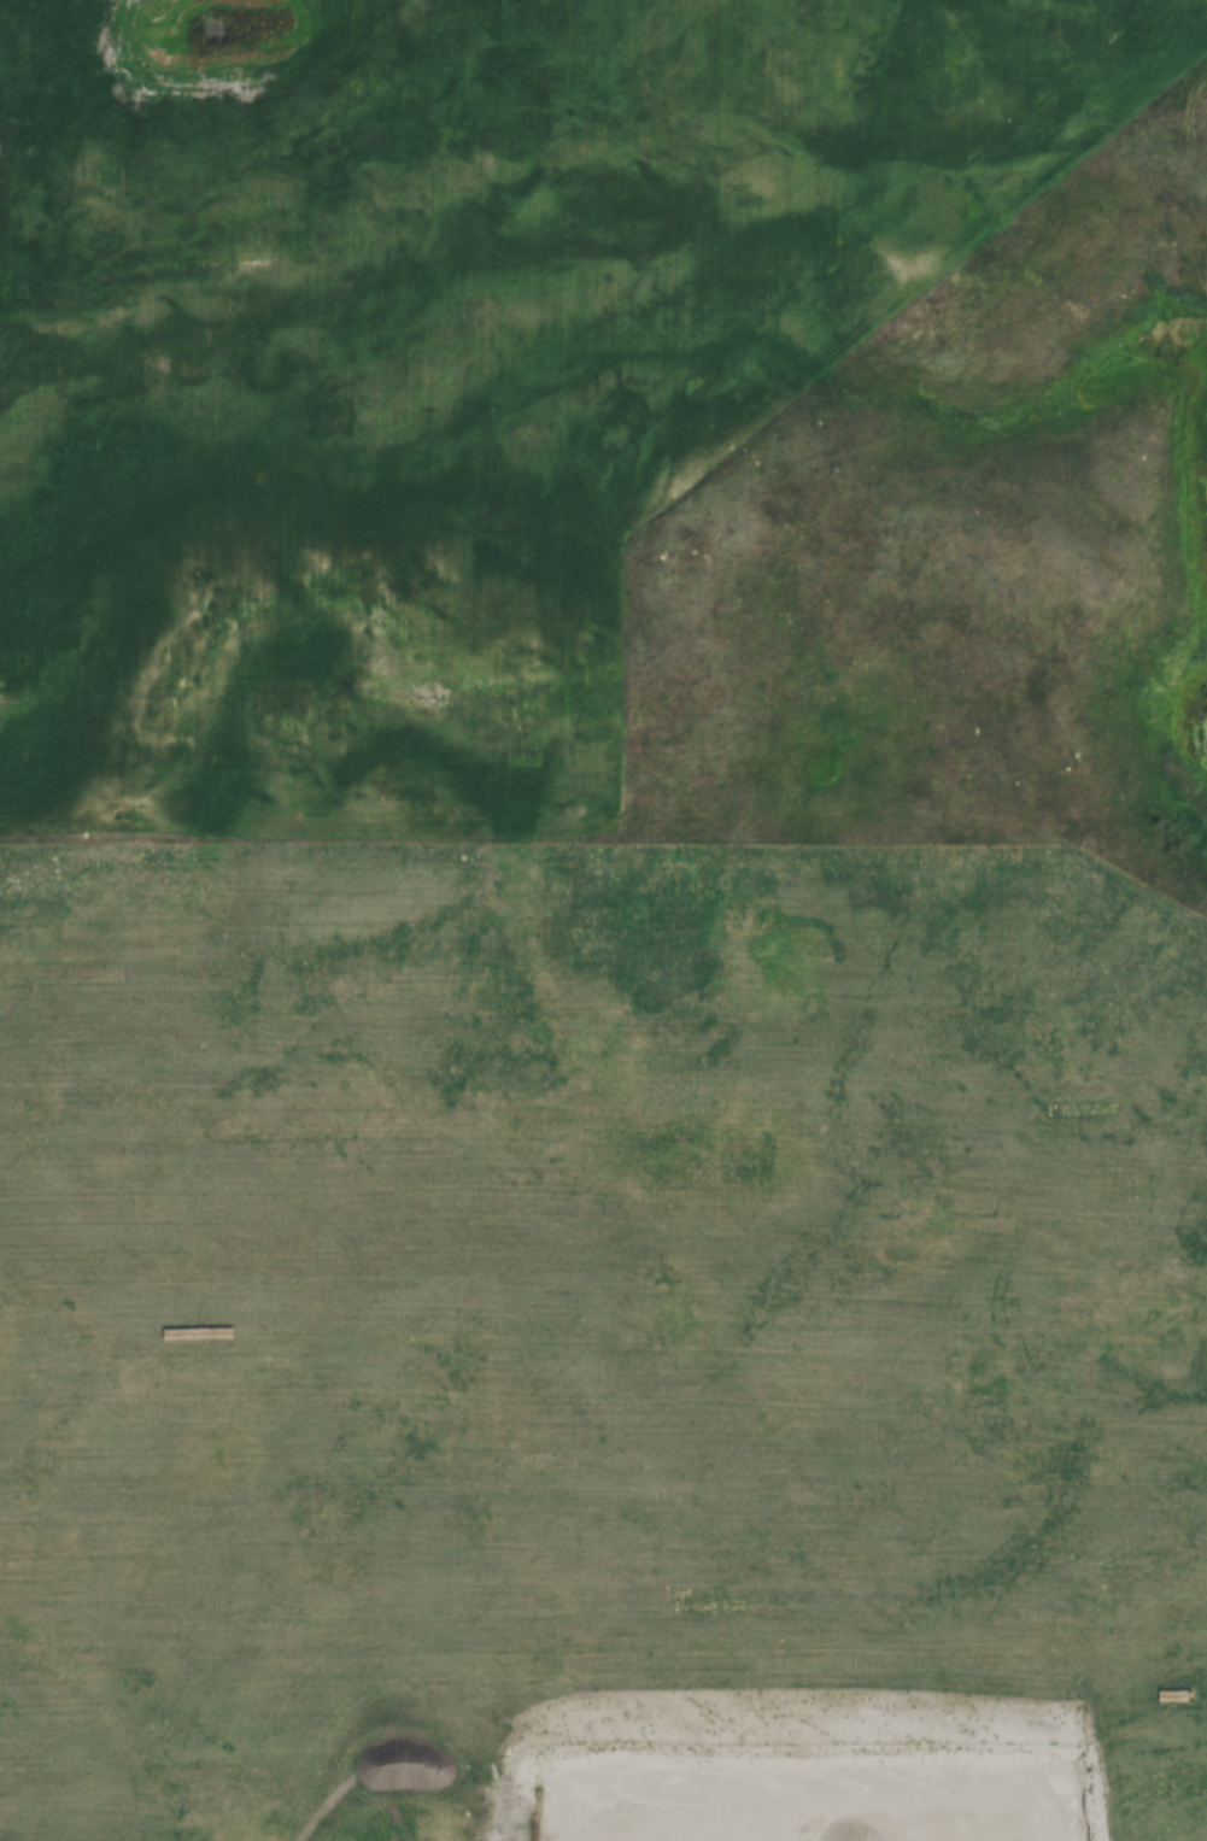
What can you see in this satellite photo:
building: (1039, 1622)
quarry: (814, 1817)

